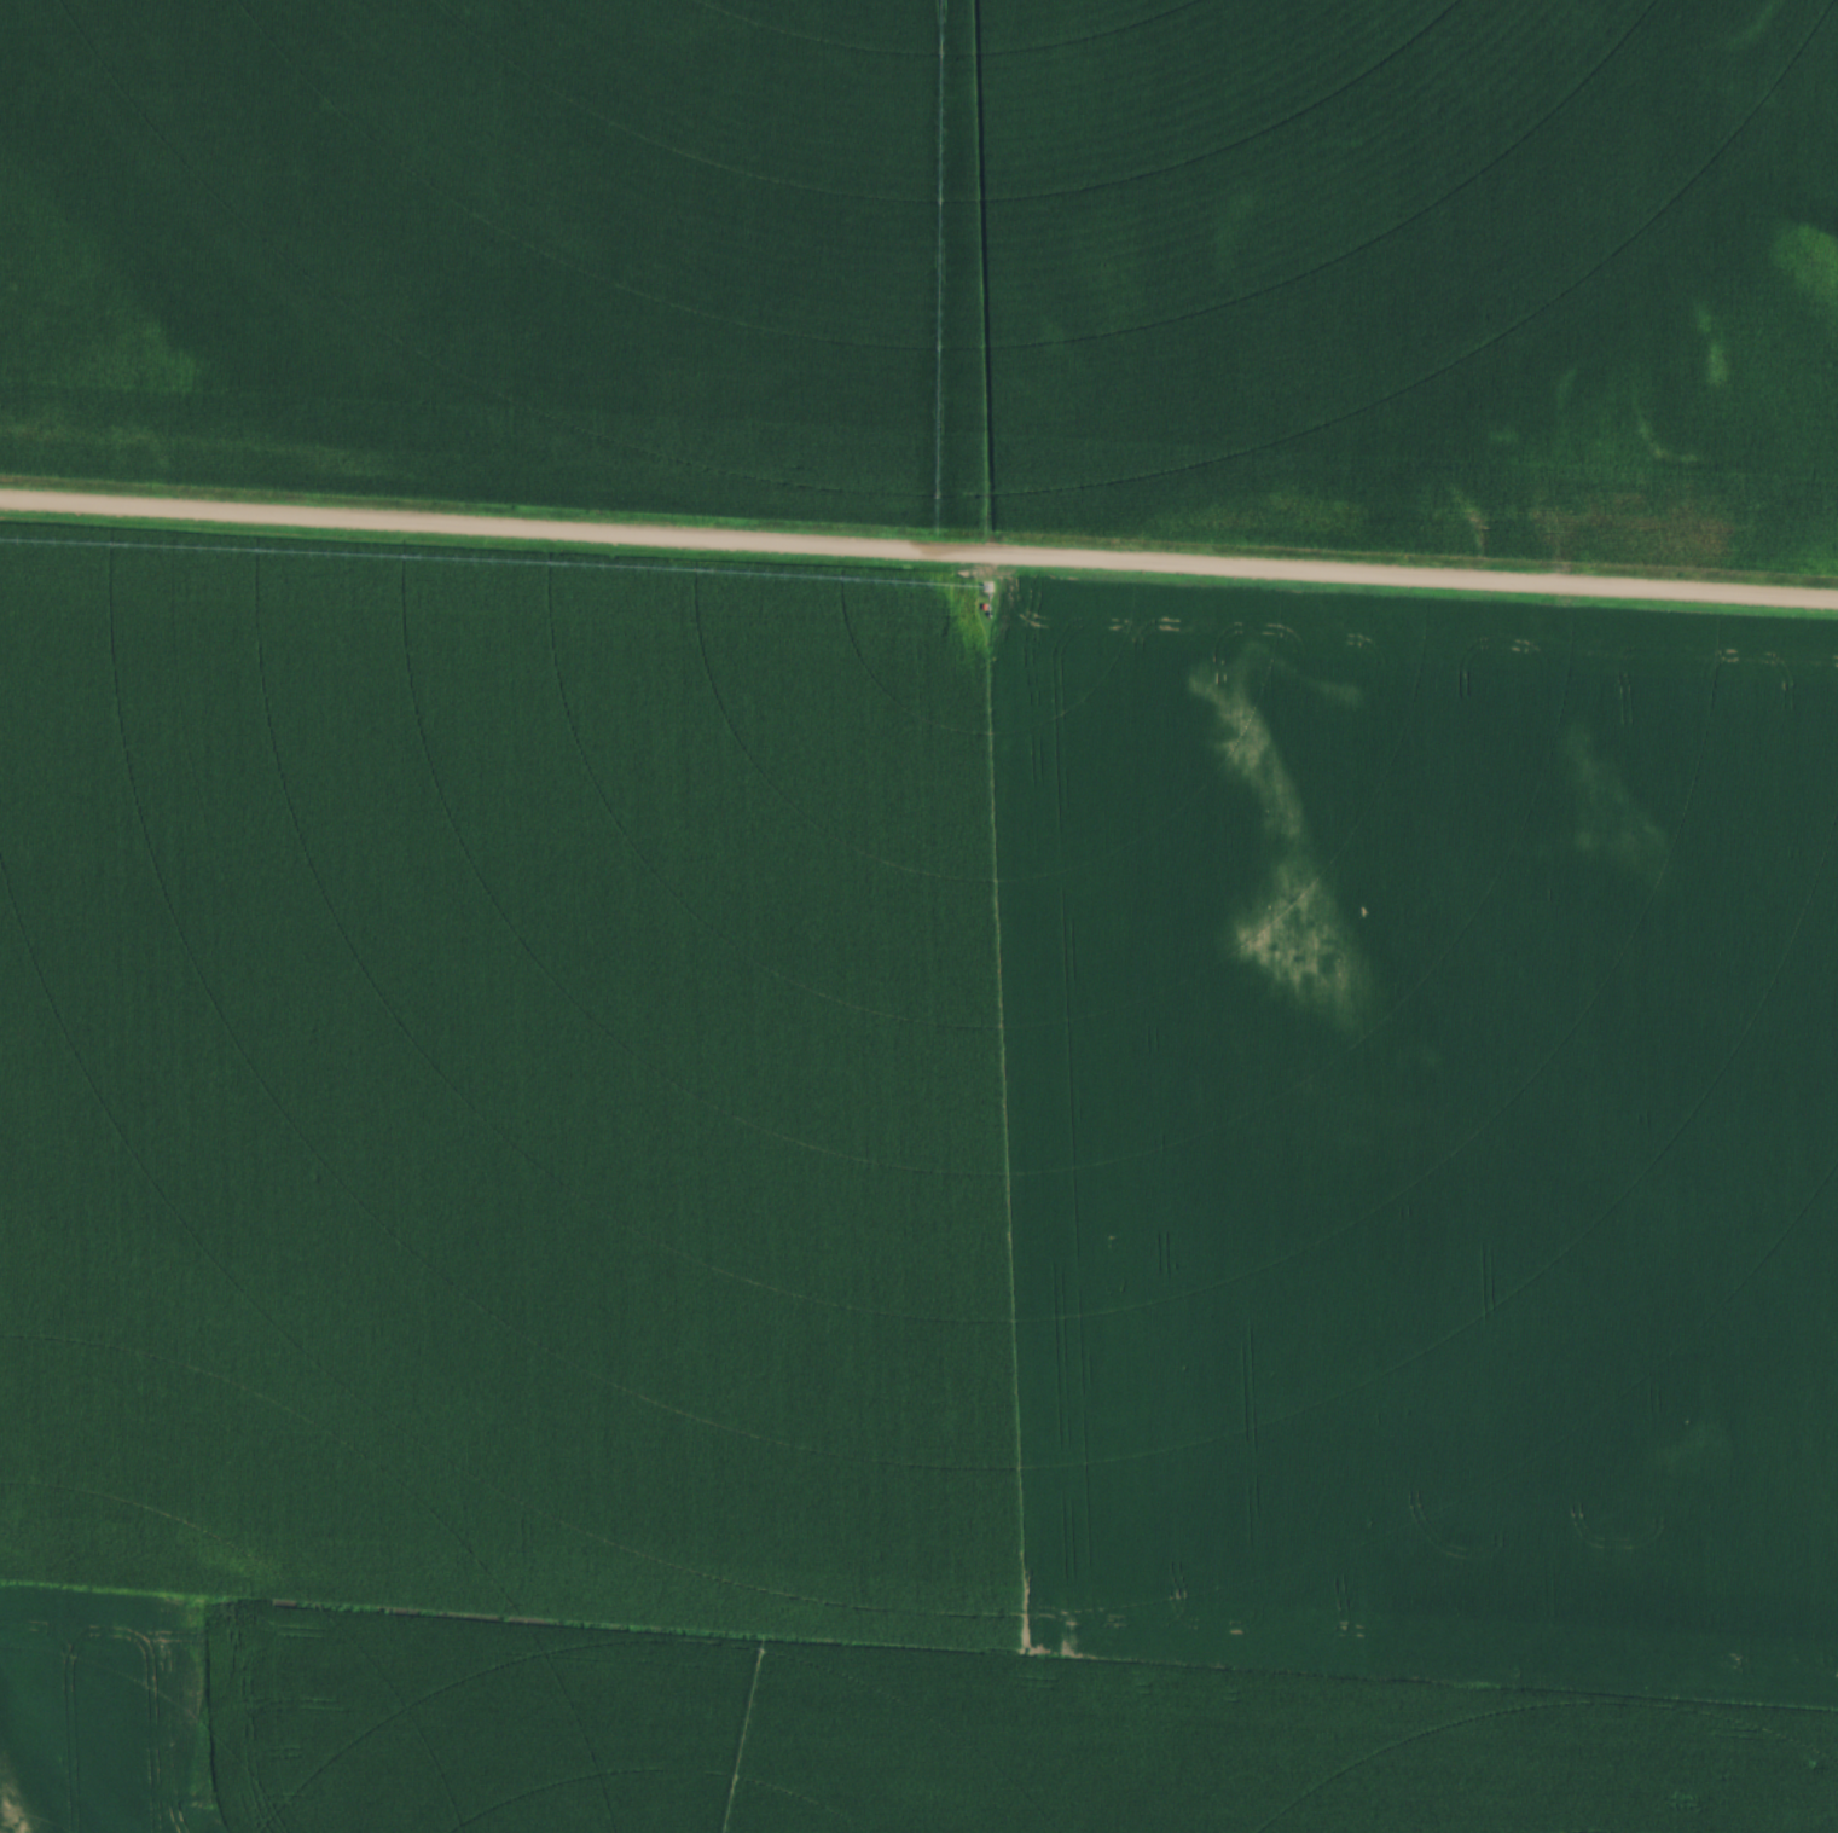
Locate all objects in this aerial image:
road: (918, 555)

